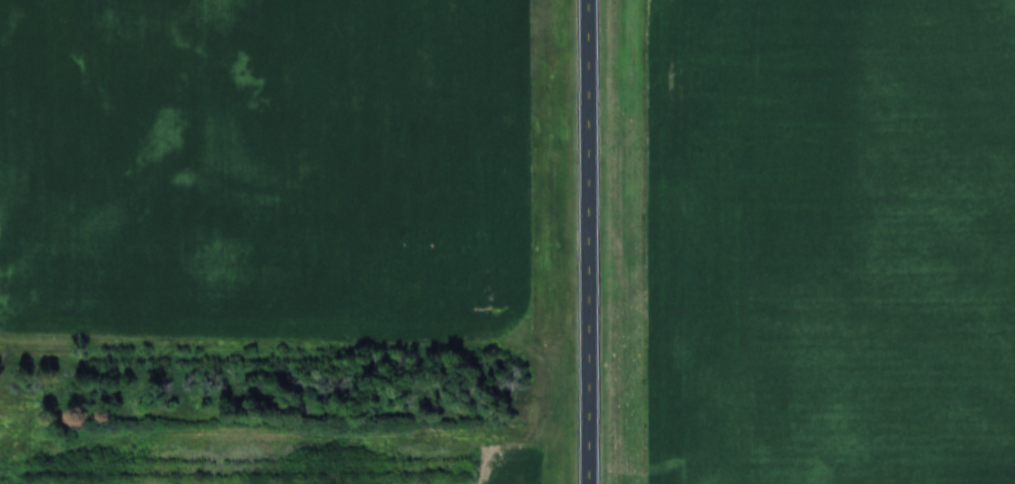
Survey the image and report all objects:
road: (598, 242)

